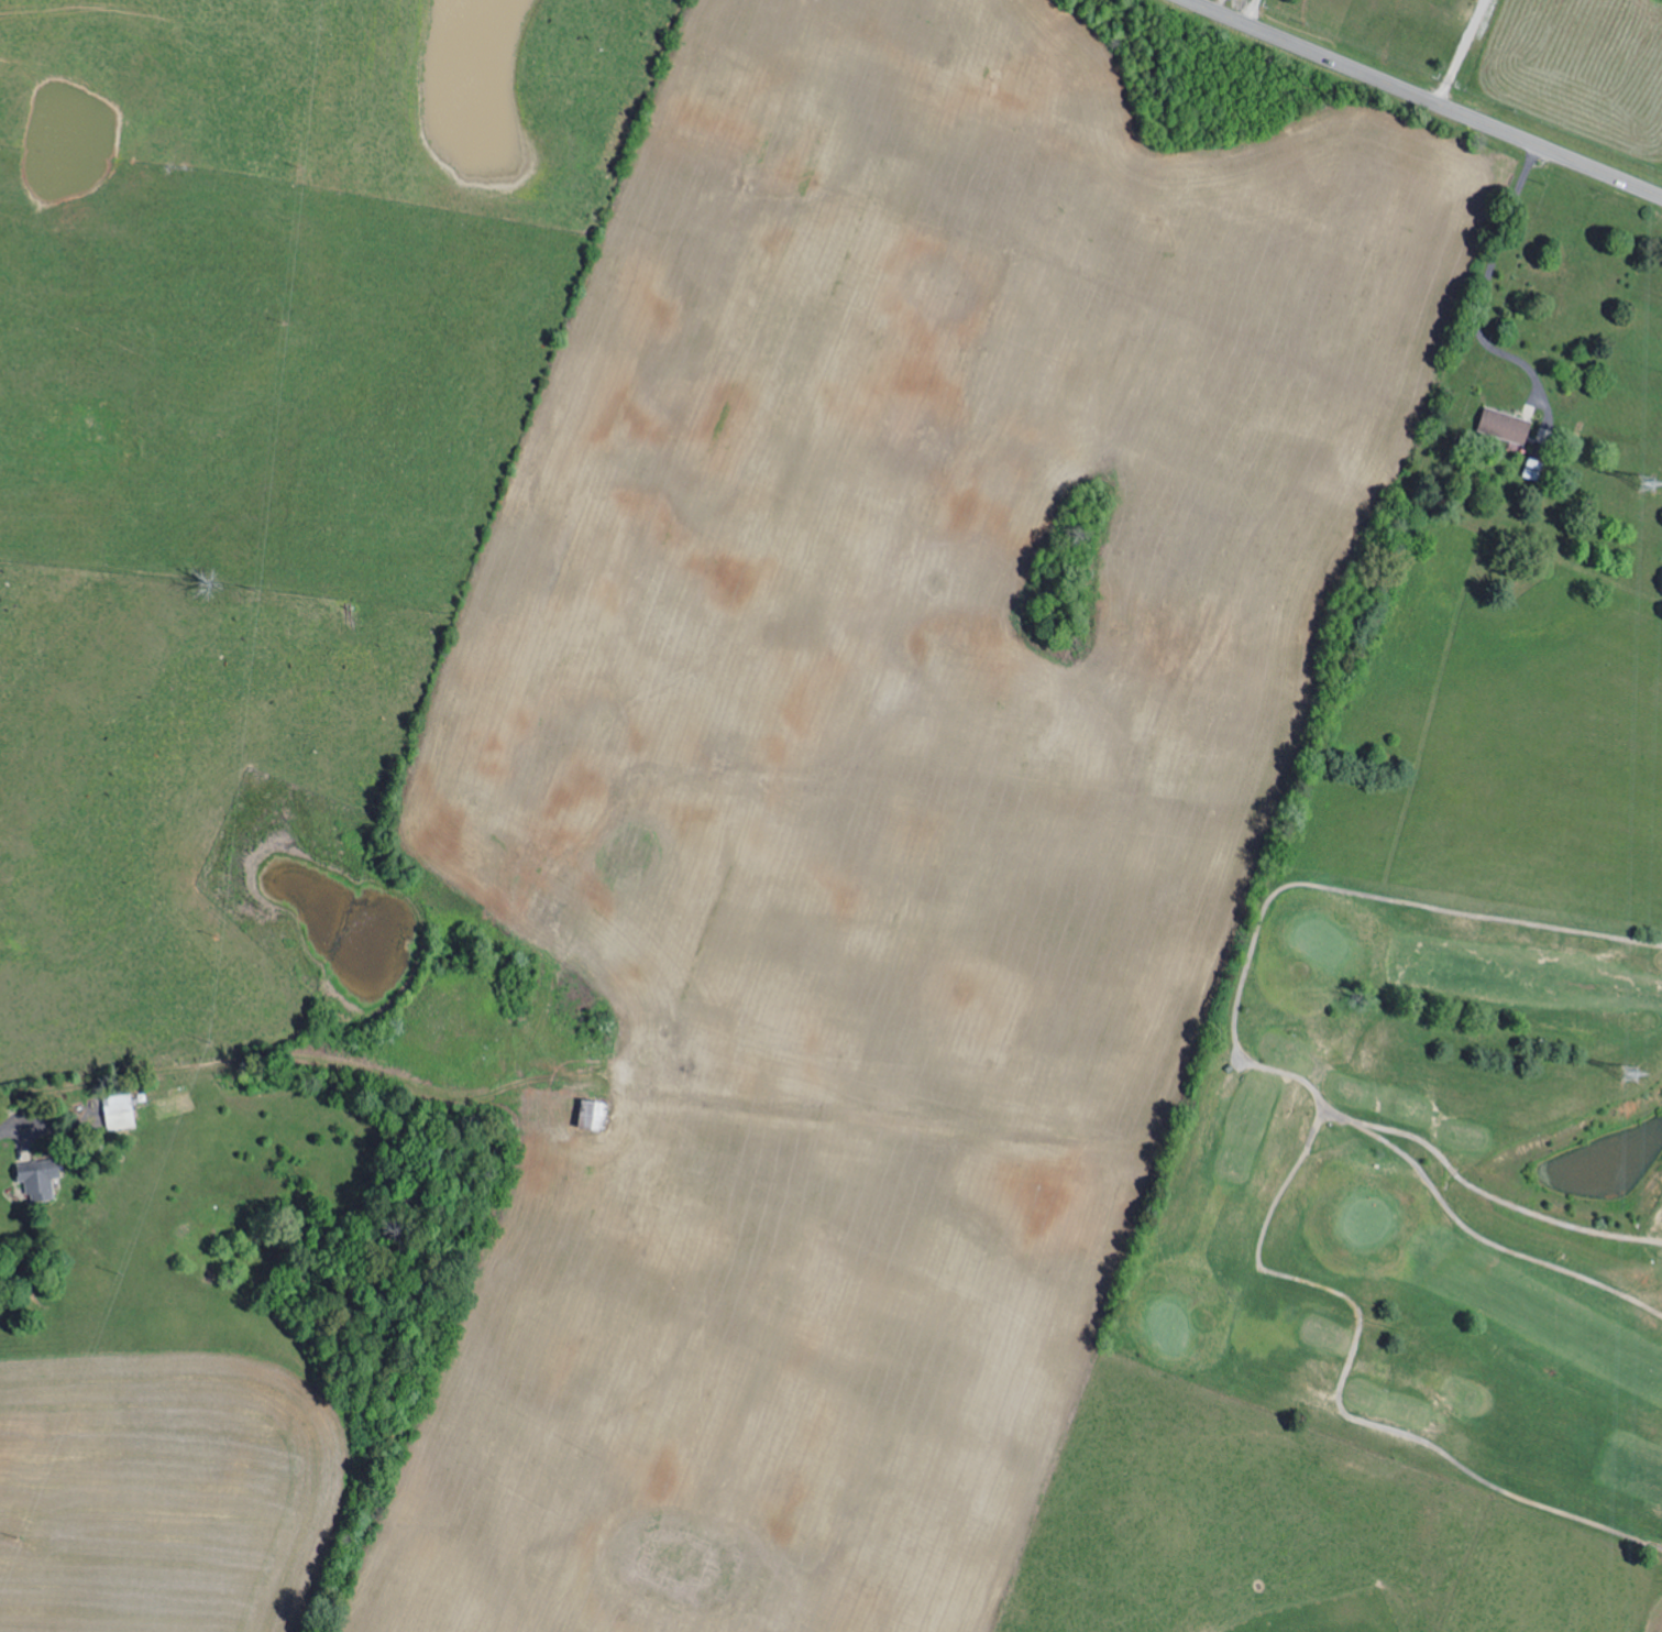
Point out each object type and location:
road: (1426, 99)
road: (1492, 282)
building: (1508, 426)
power tower: (1641, 489)
power tower: (1637, 1084)
building: (122, 1110)
building: (596, 1113)
building: (41, 1180)
park: (1418, 1189)

